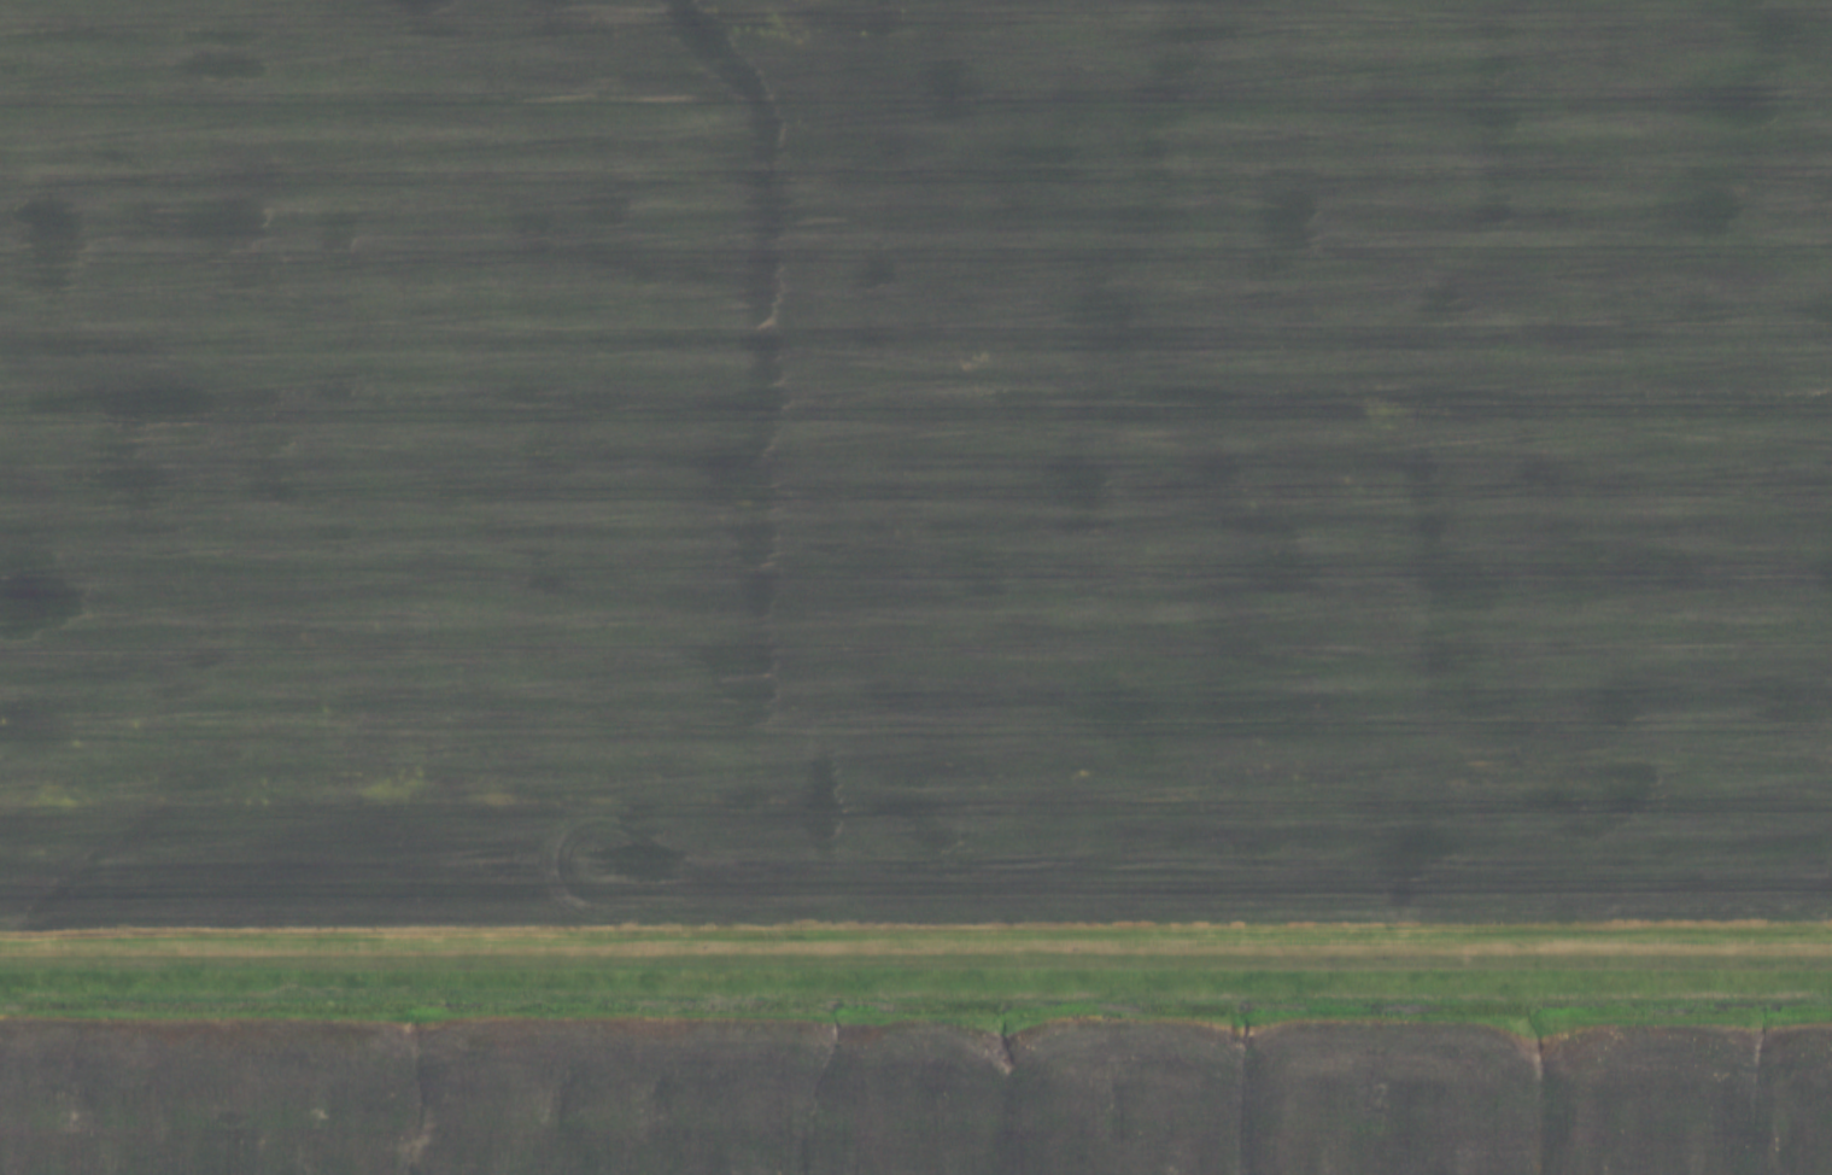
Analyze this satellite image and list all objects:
road: (915, 969)

